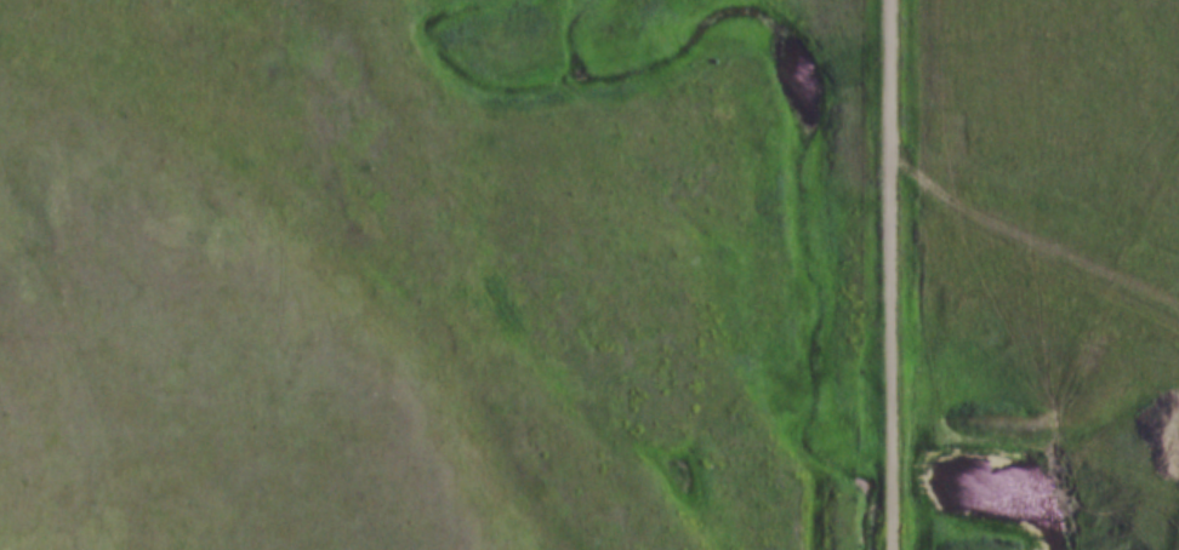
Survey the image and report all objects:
road: (1025, 234)
road: (889, 275)
quarry: (1120, 470)

